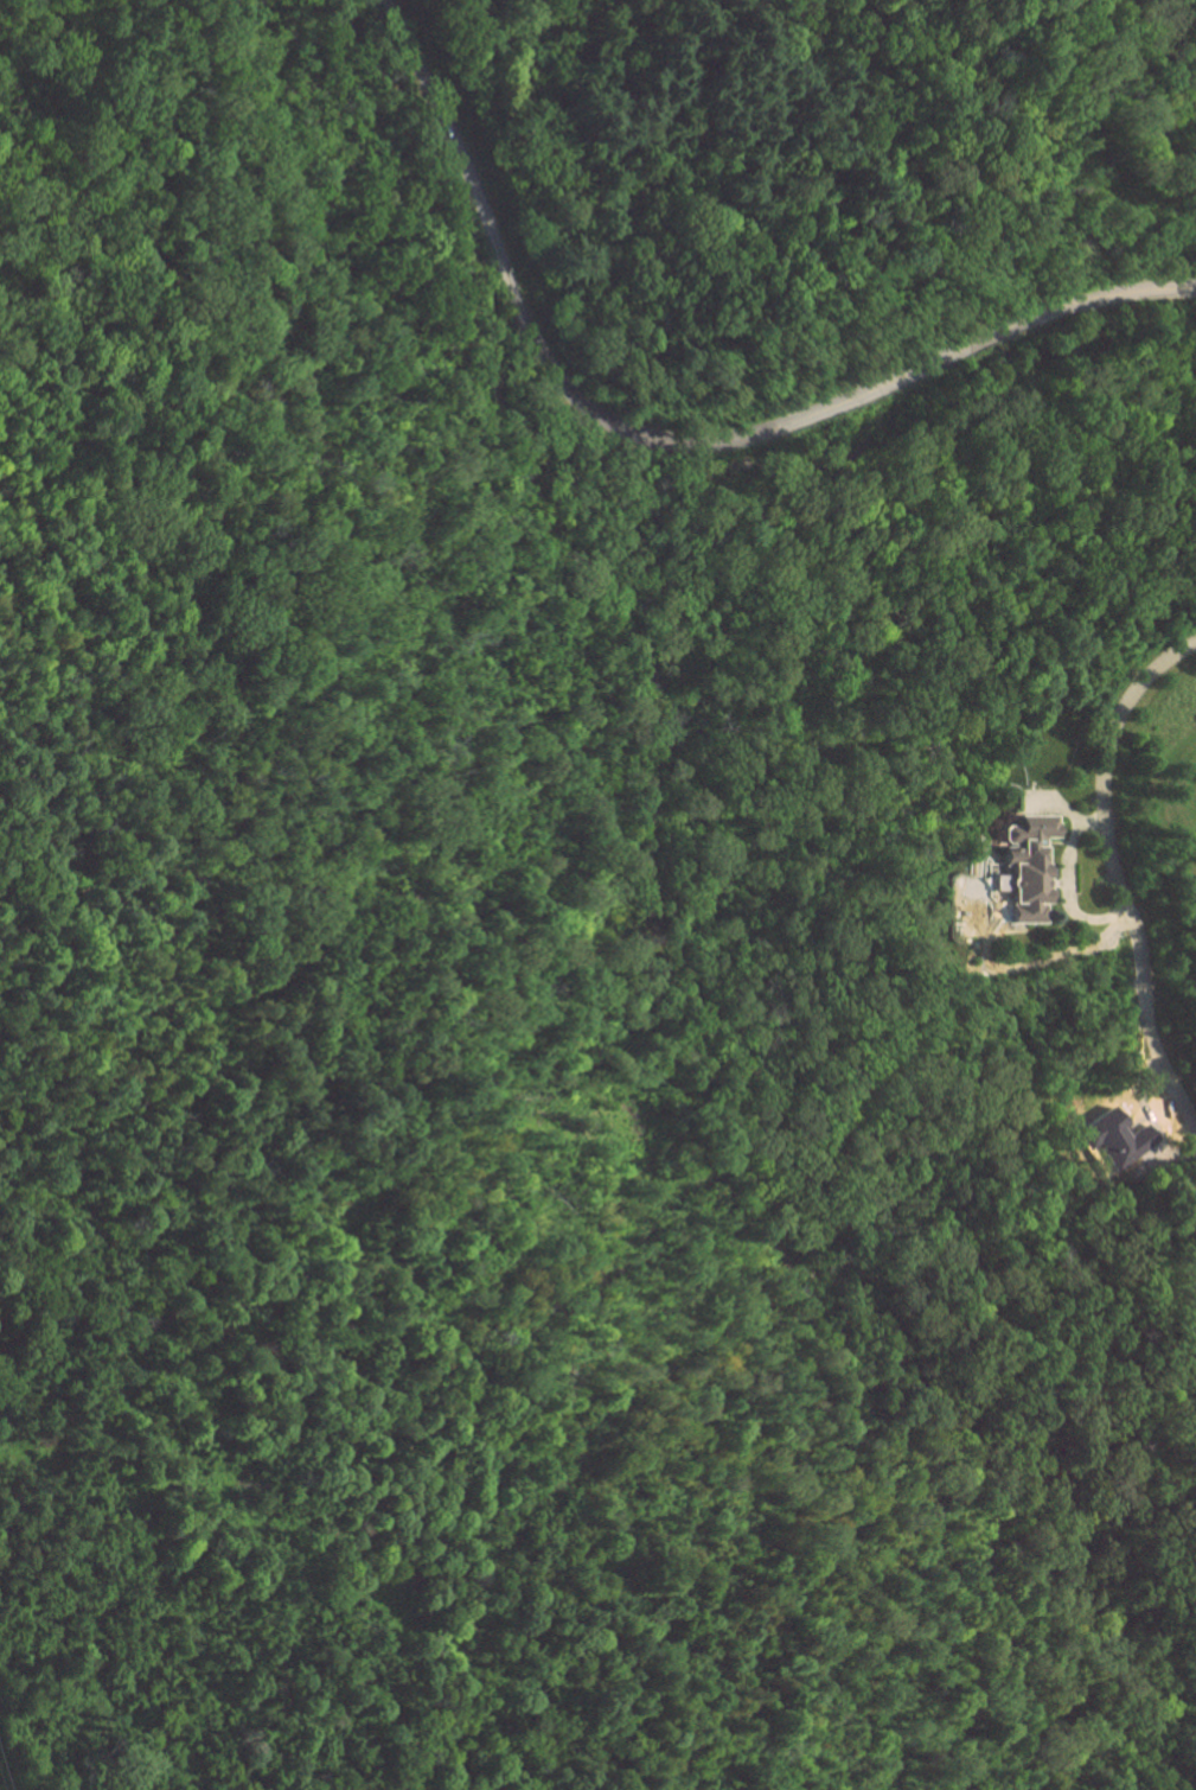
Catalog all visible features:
road: (672, 444)
park: (1176, 777)
road: (1117, 873)
road: (1063, 880)

